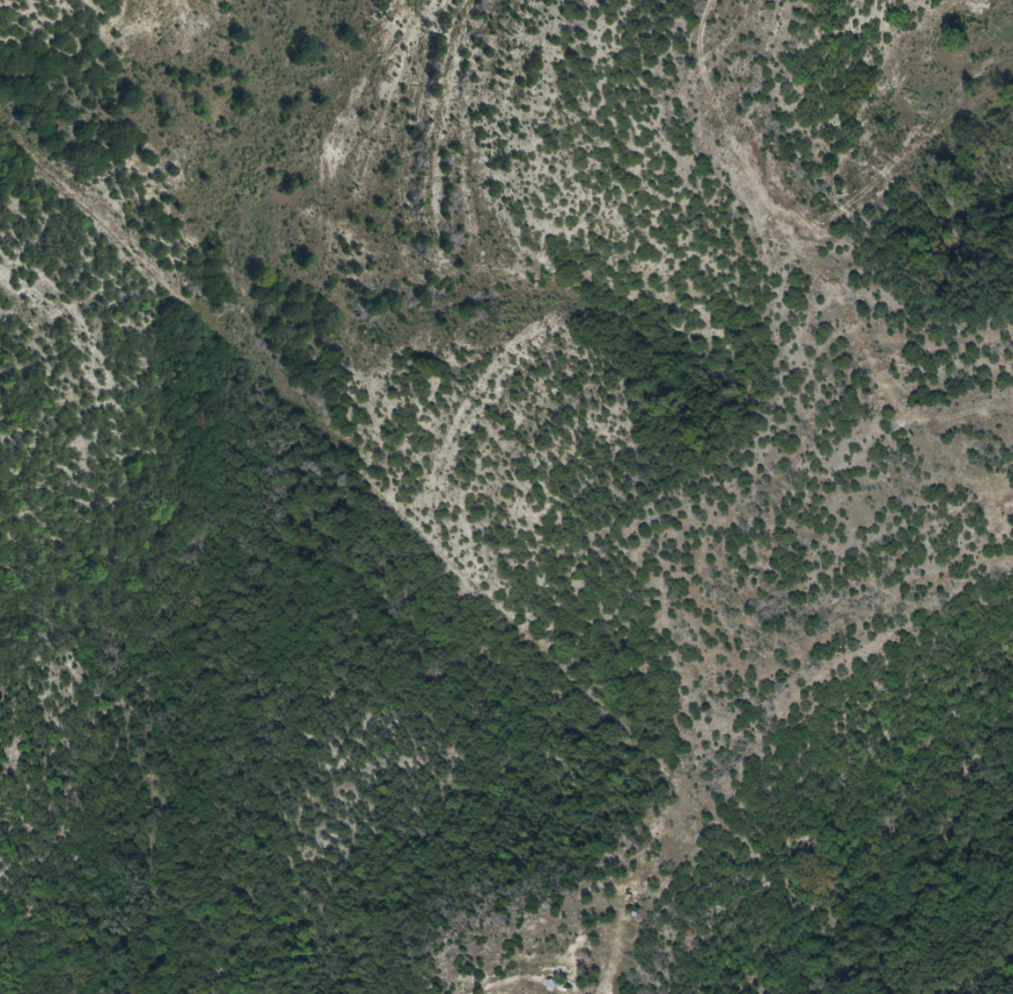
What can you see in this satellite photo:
road: (615, 967)

